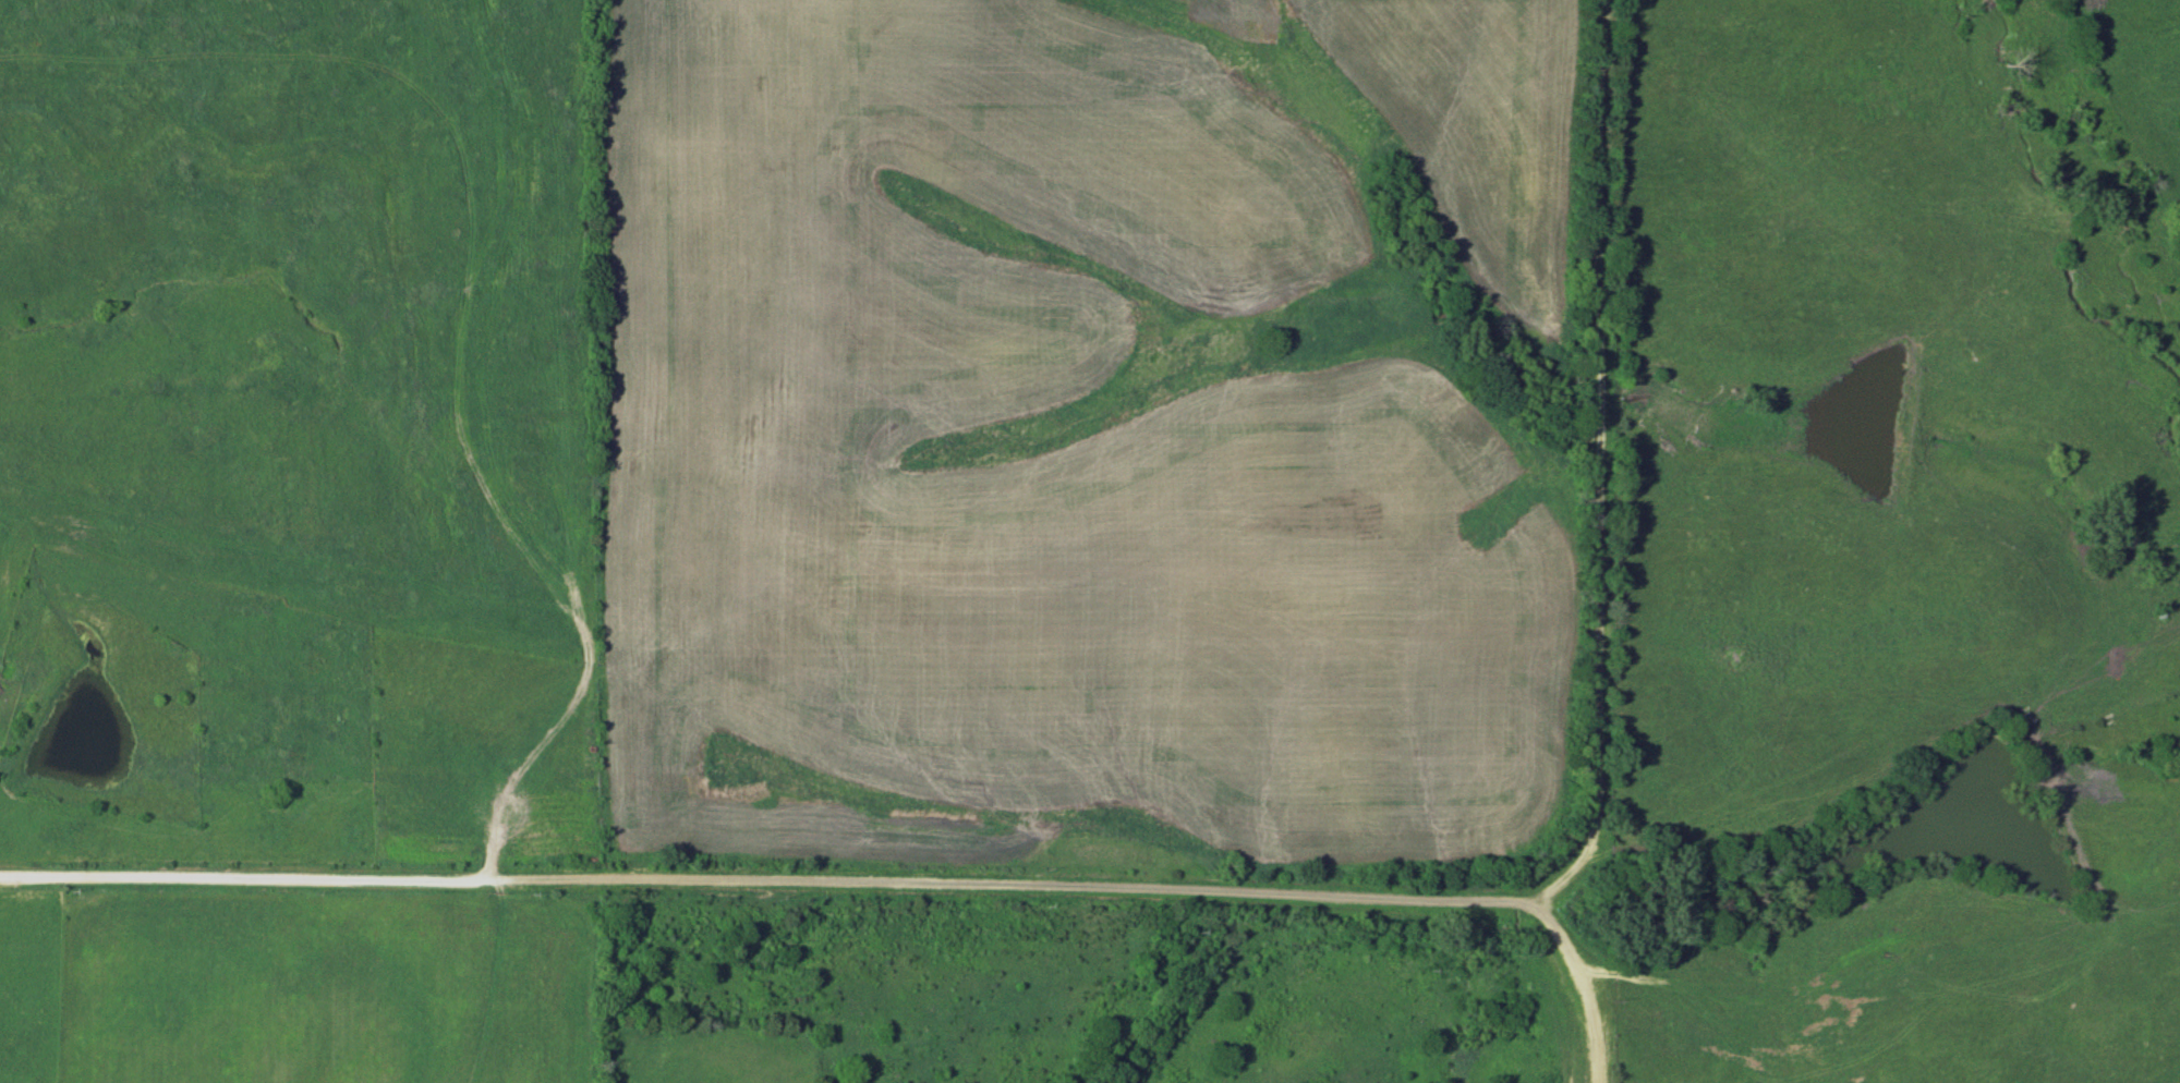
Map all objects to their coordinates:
road: (1573, 868)
road: (770, 879)
road: (1582, 990)

